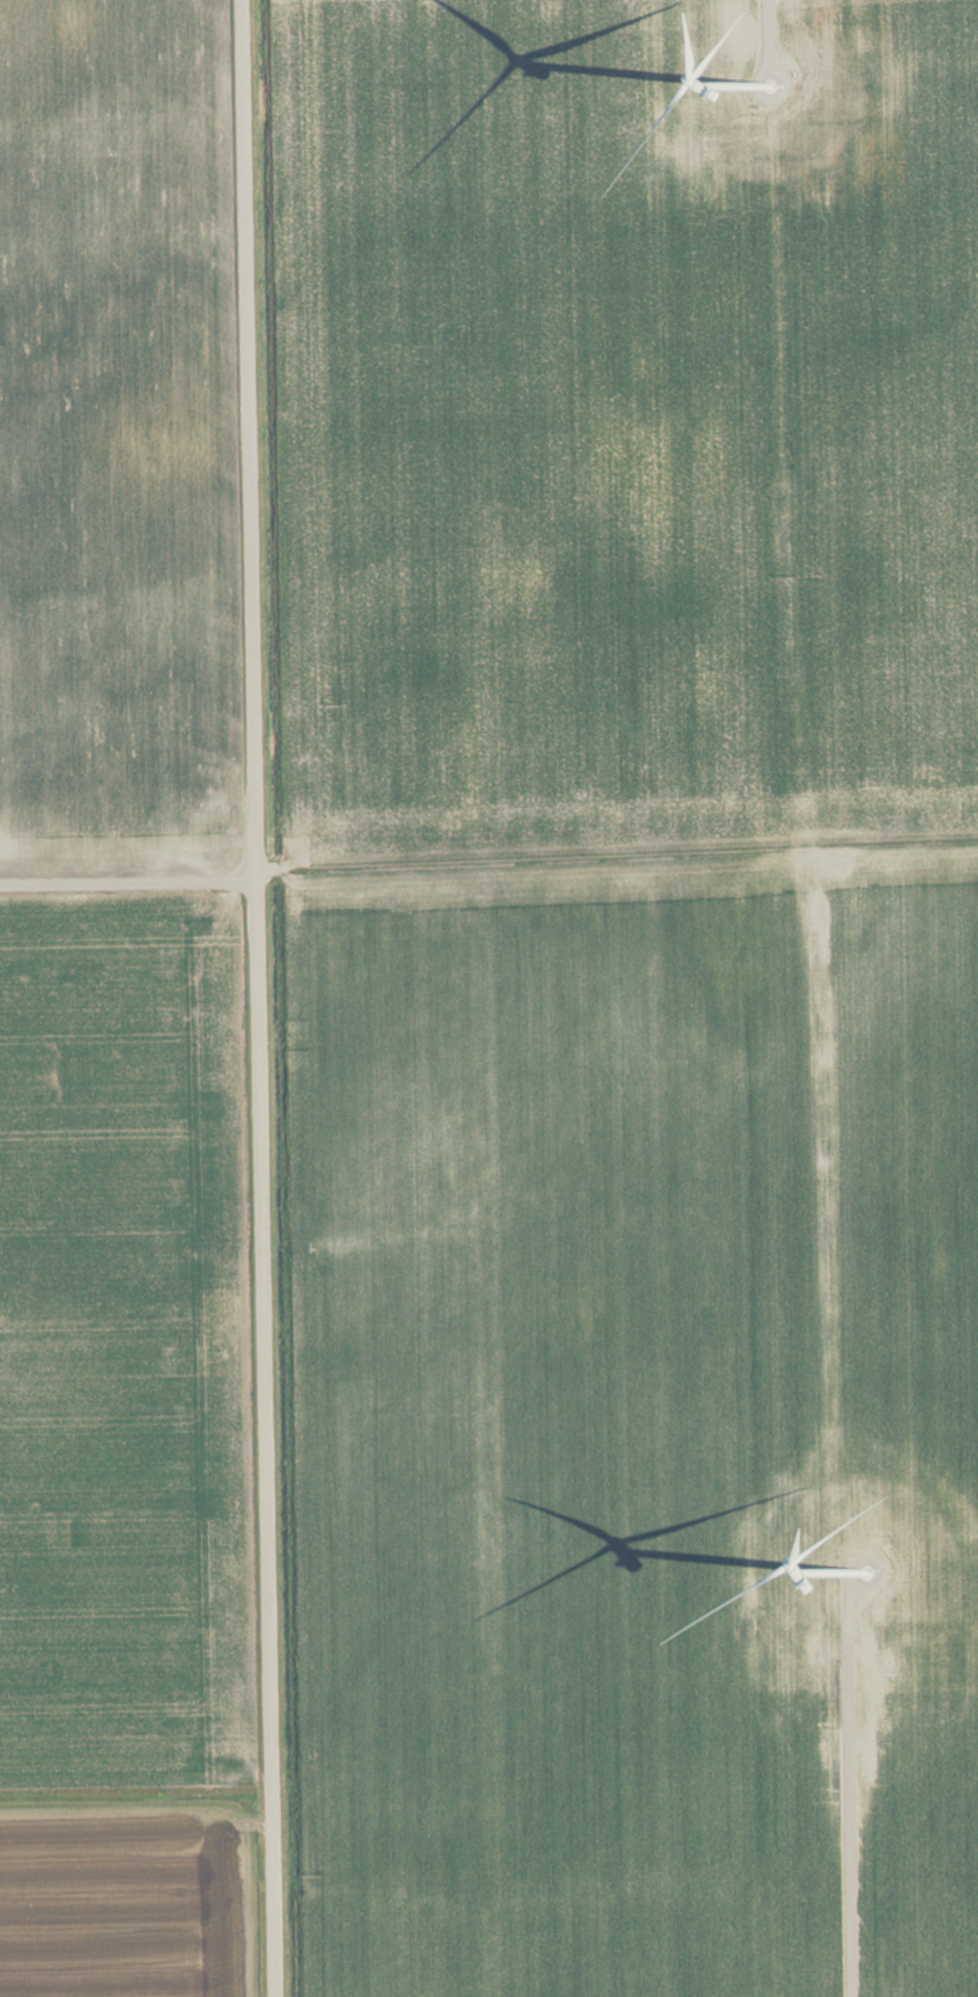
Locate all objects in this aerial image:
wind turbine: (773, 88)
road: (270, 998)
wind turbine: (865, 1577)

